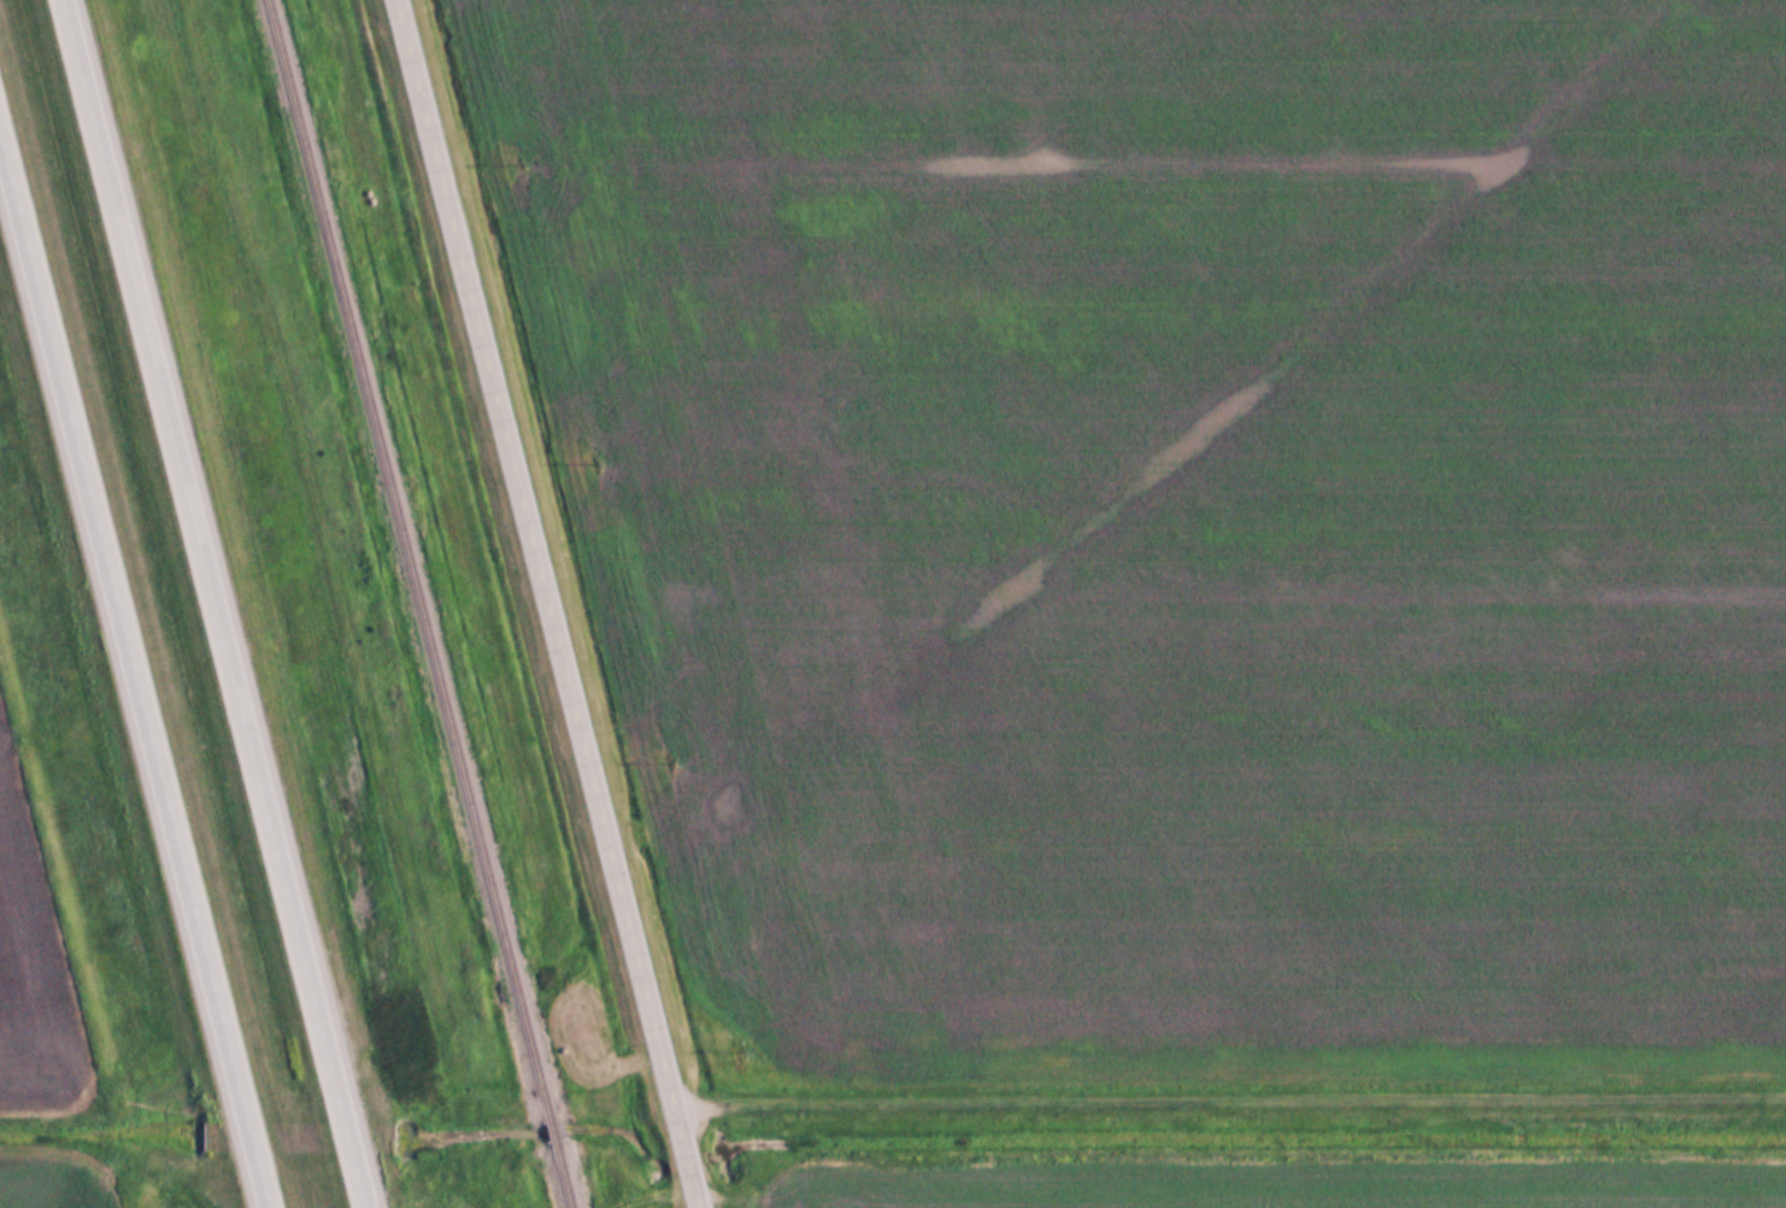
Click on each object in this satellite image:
crop: (1183, 505)
railway: (406, 558)
road: (219, 603)
road: (550, 603)
road: (131, 678)
road: (1229, 1101)
railway: (548, 1128)
railway: (559, 1174)

